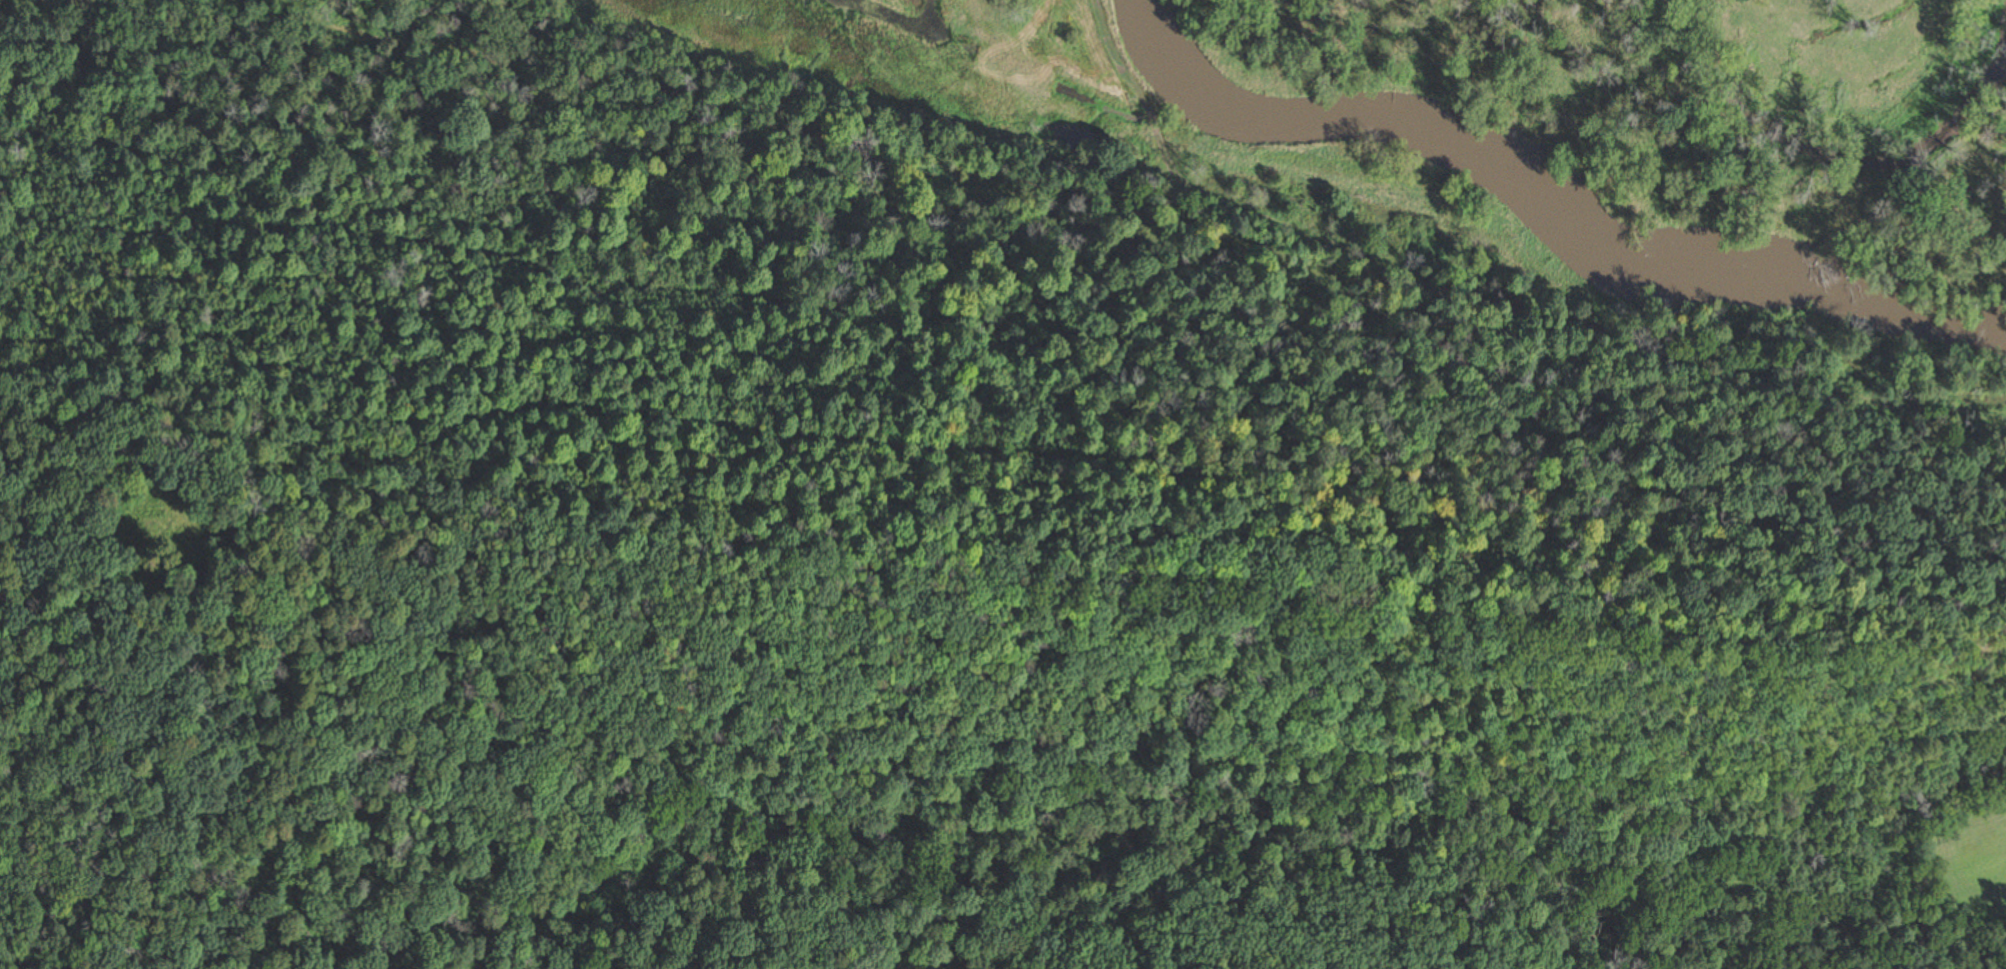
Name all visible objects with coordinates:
river: (1548, 198)

